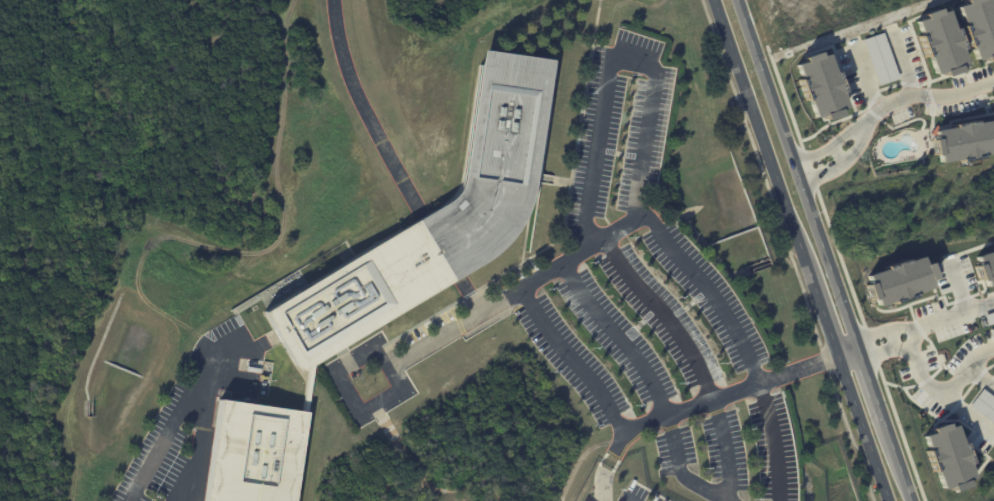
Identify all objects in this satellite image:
building: (978, 27)
building: (939, 42)
road: (901, 67)
building: (819, 86)
road: (933, 95)
road: (364, 109)
road: (852, 128)
road: (860, 138)
building: (963, 141)
road: (836, 153)
road: (814, 154)
road: (822, 173)
road: (638, 185)
building: (432, 220)
road: (799, 250)
road: (827, 250)
building: (985, 266)
building: (898, 281)
road: (517, 291)
road: (947, 316)
road: (872, 333)
road: (892, 335)
road: (879, 349)
road: (990, 349)
road: (848, 354)
road: (695, 357)
road: (573, 359)
road: (983, 375)
road: (653, 382)
road: (349, 396)
road: (939, 396)
road: (717, 397)
road: (203, 412)
road: (171, 435)
building: (253, 453)
building: (947, 456)
road: (187, 482)
road: (602, 486)
building: (576, 498)
road: (624, 498)

